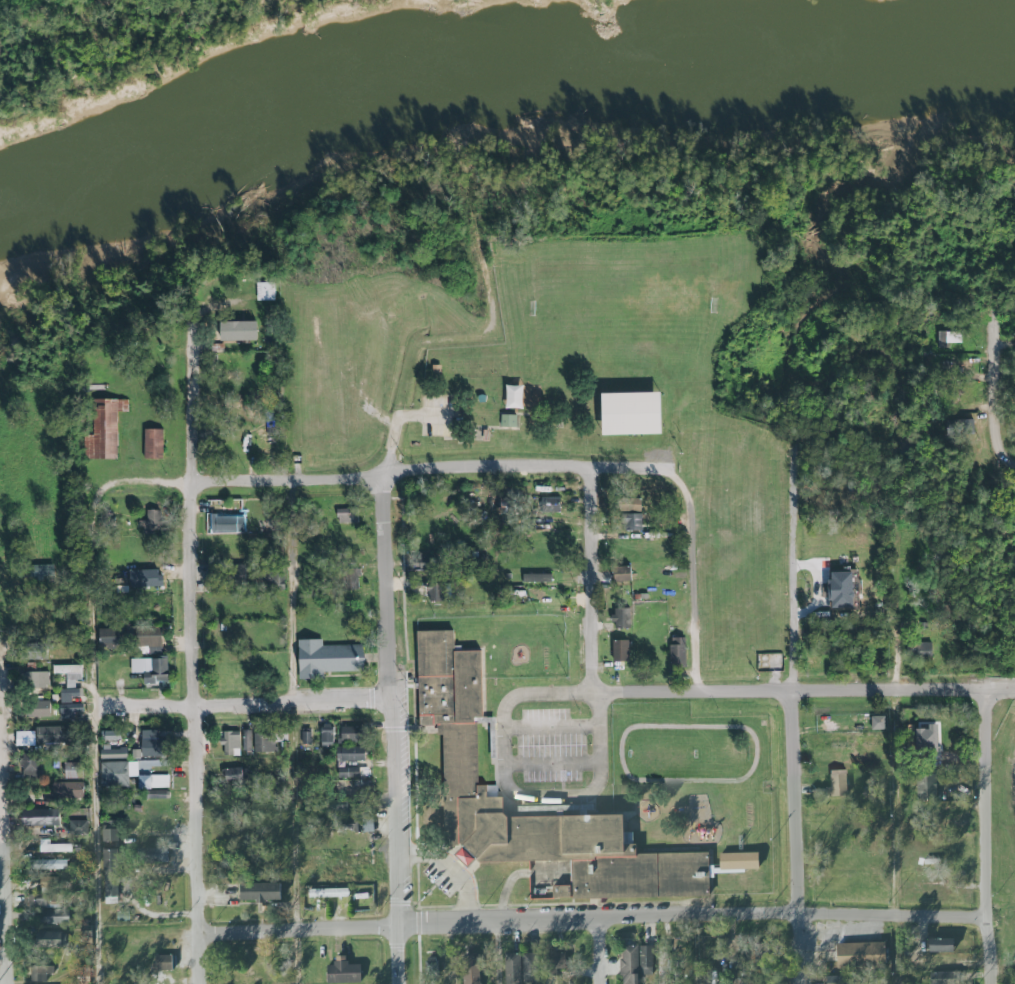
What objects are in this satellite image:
river: (494, 85)
building: (265, 292)
building: (238, 333)
building: (946, 338)
road: (437, 339)
road: (991, 358)
park: (629, 393)
building: (512, 396)
building: (626, 412)
building: (507, 420)
building: (102, 428)
building: (152, 443)
road: (1004, 469)
road: (332, 480)
building: (551, 504)
building: (631, 505)
building: (345, 515)
building: (150, 522)
building: (224, 524)
building: (632, 524)
building: (423, 562)
building: (42, 571)
building: (234, 572)
building: (620, 572)
road: (692, 576)
building: (536, 577)
road: (588, 577)
building: (143, 578)
building: (350, 578)
building: (275, 579)
building: (433, 590)
building: (841, 591)
road: (897, 610)
building: (619, 618)
road: (790, 621)
building: (107, 638)
building: (149, 638)
road: (193, 648)
building: (619, 650)
building: (921, 650)
building: (676, 652)
building: (327, 657)
building: (37, 679)
building: (69, 681)
road: (803, 689)
road: (243, 705)
building: (37, 706)
building: (70, 710)
road: (393, 730)
road: (95, 733)
road: (294, 733)
building: (326, 735)
building: (922, 735)
building: (42, 736)
building: (351, 736)
building: (305, 737)
building: (246, 740)
building: (266, 741)
building: (149, 743)
building: (230, 743)
building: (351, 755)
building: (457, 761)
building: (115, 767)
building: (29, 769)
building: (71, 770)
building: (349, 774)
building: (233, 775)
building: (153, 781)
road: (509, 783)
building: (839, 785)
building: (925, 785)
building: (66, 792)
building: (158, 794)
building: (342, 806)
building: (576, 809)
building: (37, 817)
building: (356, 824)
building: (79, 827)
building: (108, 830)
road: (984, 836)
building: (55, 847)
building: (153, 855)
building: (108, 859)
building: (737, 861)
building: (56, 864)
road: (3, 867)
building: (327, 893)
building: (260, 895)
building: (50, 911)
road: (540, 921)
building: (50, 939)
building: (939, 945)
road: (696, 950)
road: (598, 951)
road: (497, 953)
building: (859, 954)
building: (645, 960)
building: (162, 962)
building: (555, 963)
building: (628, 964)
building: (513, 969)
building: (342, 971)
building: (473, 971)
building: (41, 972)
building: (940, 978)

